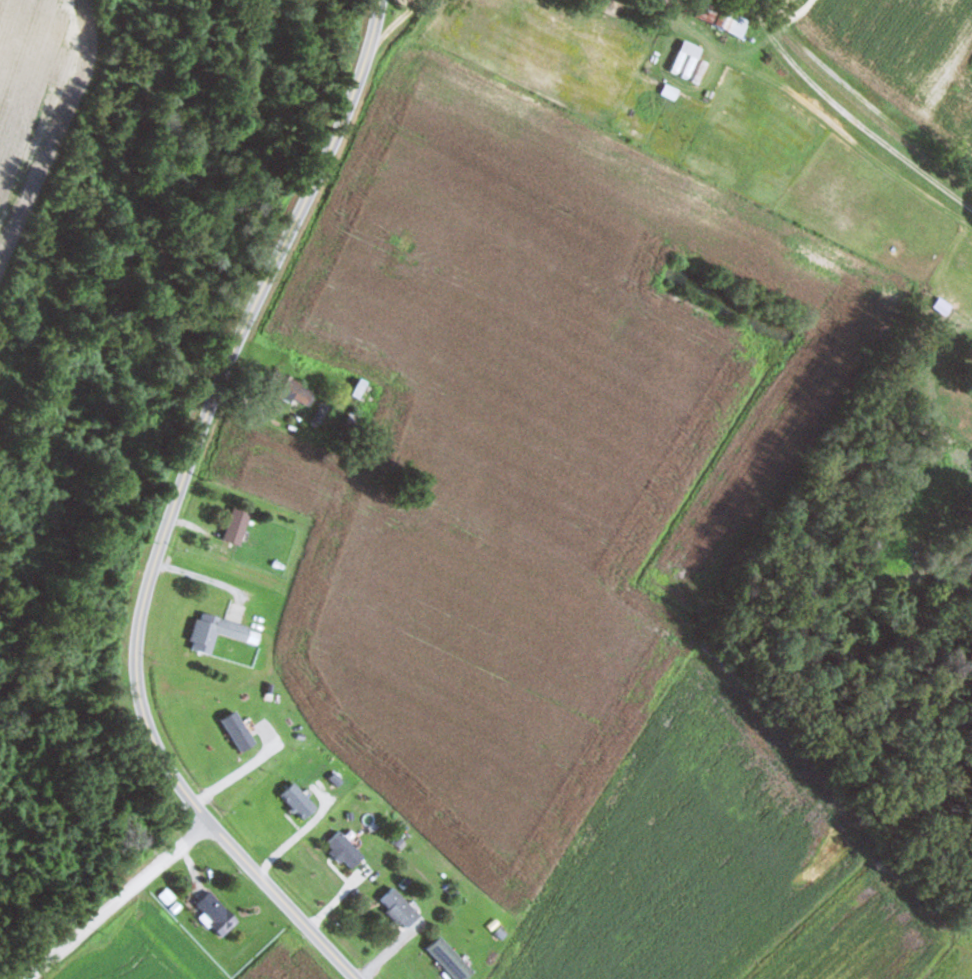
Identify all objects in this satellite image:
road: (399, 21)
building: (732, 22)
building: (687, 59)
road: (860, 86)
building: (671, 91)
building: (360, 387)
building: (296, 391)
road: (171, 509)
building: (238, 525)
building: (220, 632)
building: (125, 836)
building: (346, 849)
road: (118, 903)
building: (400, 908)
building: (220, 918)
building: (450, 959)

